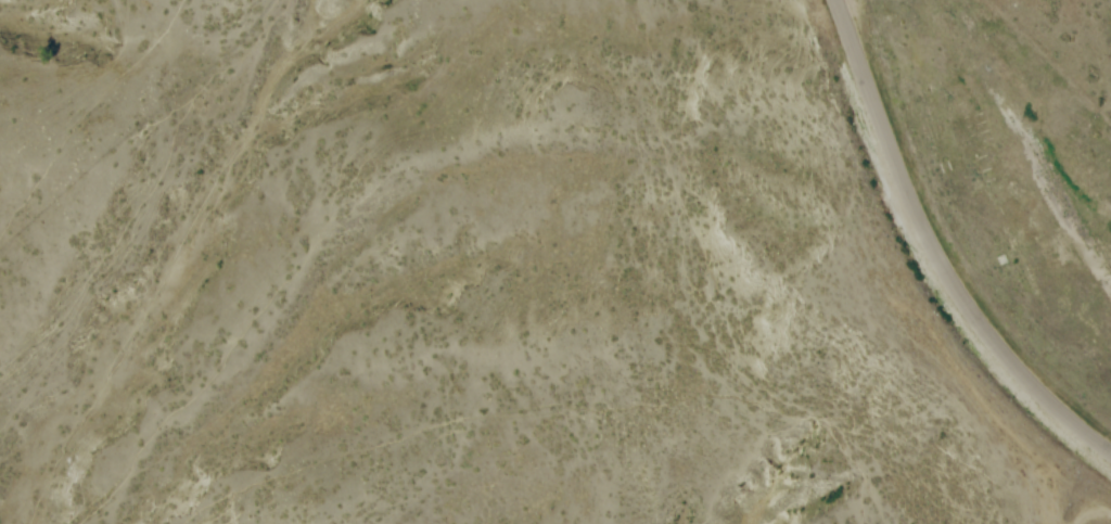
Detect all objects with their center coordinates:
road: (943, 246)

